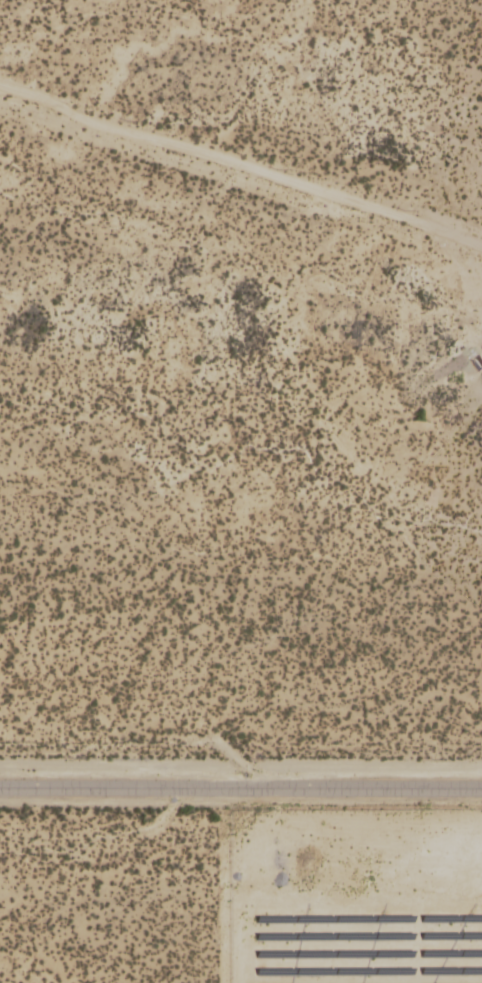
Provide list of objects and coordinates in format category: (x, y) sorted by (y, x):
road: (241, 788)

